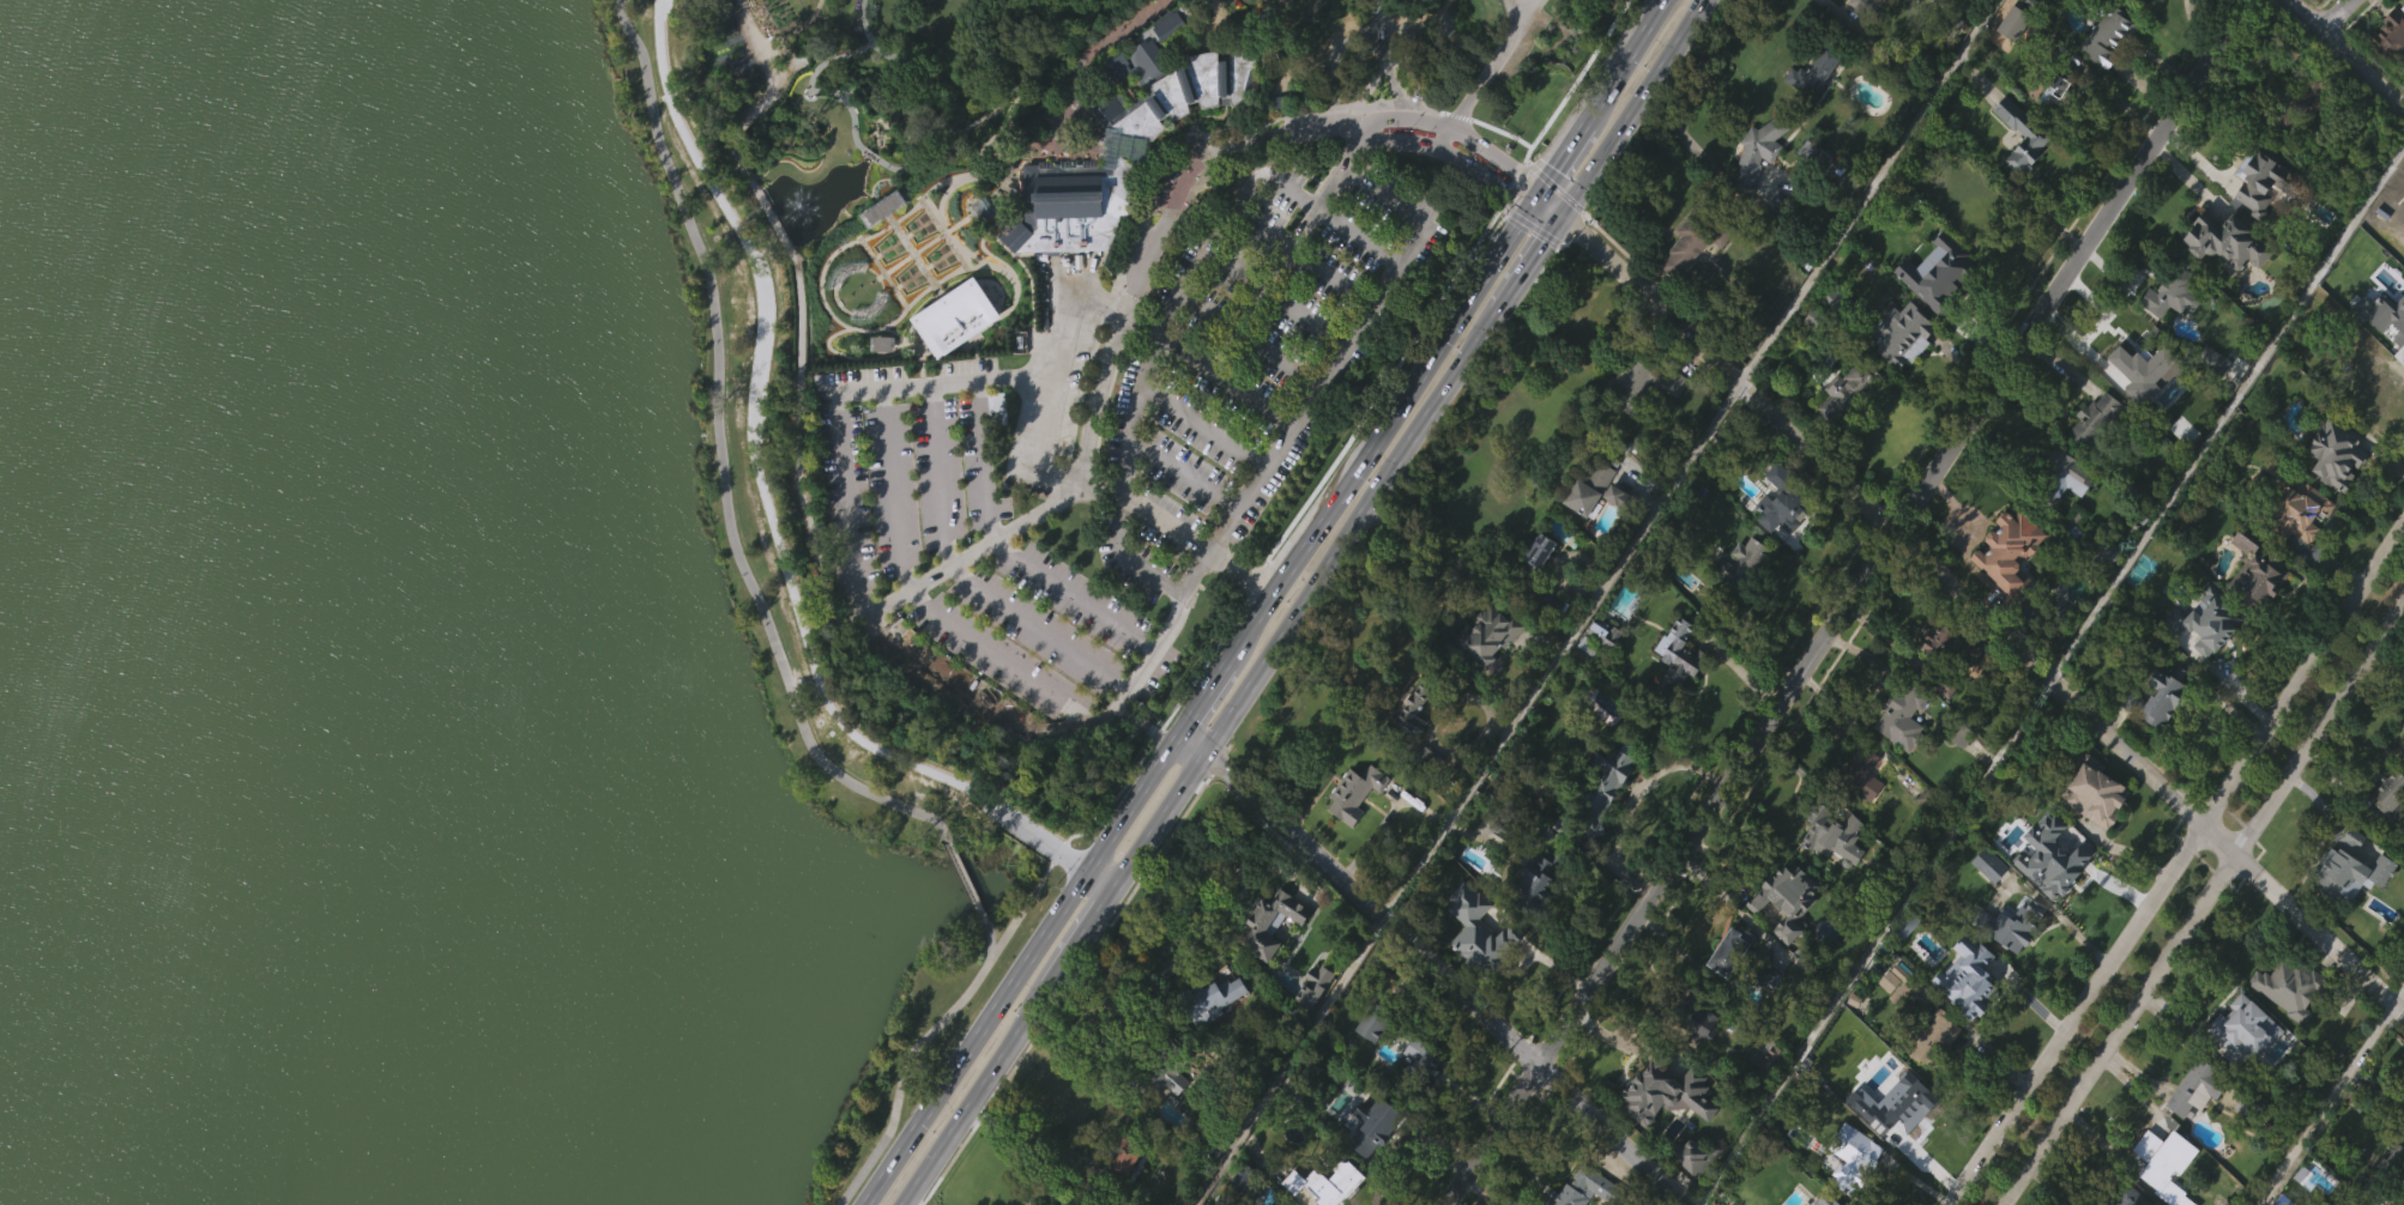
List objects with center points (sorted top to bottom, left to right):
road: (1522, 5)
building: (2158, 6)
building: (2303, 6)
road: (1831, 7)
building: (1868, 8)
road: (652, 16)
road: (2337, 16)
road: (816, 22)
building: (2113, 34)
building: (2390, 40)
road: (876, 47)
road: (2346, 54)
building: (1167, 60)
building: (2011, 60)
road: (1081, 68)
road: (1491, 68)
building: (1814, 71)
road: (991, 72)
building: (2104, 72)
building: (2390, 75)
building: (2067, 89)
building: (2294, 102)
building: (1811, 110)
building: (1234, 114)
road: (1408, 119)
road: (910, 120)
building: (2058, 131)
building: (2038, 133)
road: (1687, 138)
building: (1122, 139)
road: (1445, 140)
road: (850, 143)
building: (1757, 151)
road: (1448, 153)
road: (1492, 155)
road: (695, 156)
road: (1121, 156)
building: (2019, 171)
building: (2257, 177)
road: (1864, 189)
road: (1530, 190)
building: (1754, 190)
building: (1814, 194)
building: (2397, 198)
fountain: (796, 206)
building: (2258, 217)
road: (1156, 235)
building: (1703, 235)
building: (2224, 241)
building: (883, 244)
road: (1289, 249)
road: (1303, 258)
building: (1955, 267)
building: (2222, 278)
building: (1687, 283)
building: (2170, 290)
building: (2380, 292)
road: (1276, 297)
building: (2399, 303)
park: (1097, 308)
building: (1933, 309)
building: (2384, 325)
building: (2169, 331)
building: (1899, 334)
road: (1249, 339)
building: (2400, 347)
building: (2134, 351)
building: (954, 356)
parking lot: (1251, 357)
building: (2209, 362)
road: (766, 369)
building: (1898, 373)
road: (942, 377)
building: (880, 381)
building: (1637, 384)
building: (2369, 384)
road: (1047, 390)
building: (1850, 390)
building: (2139, 408)
building: (1638, 417)
building: (2100, 425)
road: (1202, 428)
building: (1843, 429)
building: (996, 444)
road: (723, 452)
building: (2330, 452)
building: (2092, 456)
building: (1713, 462)
road: (1182, 474)
road: (797, 476)
building: (2067, 476)
building: (2136, 485)
building: (1588, 490)
building: (2333, 491)
building: (1786, 496)
road: (845, 501)
building: (2291, 508)
building: (2061, 513)
building: (1587, 523)
building: (2083, 528)
building: (1615, 533)
building: (1781, 537)
park: (645, 538)
road: (1007, 546)
building: (2297, 546)
building: (2010, 551)
building: (2109, 555)
building: (1534, 558)
road: (1135, 567)
building: (2252, 567)
road: (964, 573)
building: (1744, 576)
building: (1538, 587)
building: (2007, 589)
road: (917, 595)
road: (1849, 601)
road: (1303, 602)
building: (1740, 602)
road: (1970, 602)
road: (1266, 604)
building: (2253, 604)
building: (2212, 630)
building: (1494, 635)
building: (1547, 636)
road: (1560, 649)
building: (1677, 654)
building: (1947, 656)
building: (1601, 670)
building: (1485, 672)
road: (2050, 673)
building: (1674, 691)
road: (829, 692)
building: (2157, 696)
road: (1123, 697)
building: (1420, 708)
building: (1908, 717)
building: (1941, 721)
road: (1144, 723)
building: (2160, 735)
building: (1411, 746)
building: (2400, 747)
building: (1899, 753)
building: (1859, 765)
road: (1128, 777)
building: (2090, 788)
building: (1605, 791)
building: (1357, 792)
building: (2382, 795)
building: (1858, 800)
building: (1603, 819)
building: (2387, 826)
building: (1352, 829)
building: (1831, 829)
building: (2091, 830)
road: (1046, 838)
building: (2068, 848)
building: (1563, 860)
road: (2175, 867)
building: (2339, 867)
building: (1831, 872)
road: (1095, 877)
road: (965, 878)
building: (1534, 879)
building: (2049, 892)
building: (1786, 898)
building: (1987, 901)
road: (2203, 904)
building: (2351, 904)
building: (1535, 914)
building: (1268, 918)
building: (2011, 925)
building: (1783, 934)
building: (1741, 955)
building: (1270, 958)
building: (2007, 961)
road: (1433, 963)
building: (1472, 967)
building: (1909, 985)
building: (1319, 986)
building: (2291, 986)
building: (1727, 987)
building: (1979, 987)
building: (1765, 1012)
building: (1692, 1013)
building: (1886, 1017)
building: (1373, 1022)
building: (1311, 1023)
building: (1902, 1023)
building: (2283, 1024)
building: (2234, 1027)
building: (1208, 1036)
building: (1939, 1039)
road: (907, 1056)
road: (1286, 1059)
building: (1420, 1059)
building: (1370, 1060)
building: (1774, 1066)
building: (2240, 1066)
building: (1159, 1073)
building: (1931, 1073)
building: (1656, 1086)
building: (2192, 1086)
road: (2327, 1092)
building: (1420, 1094)
building: (1891, 1095)
building: (1768, 1097)
building: (2390, 1106)
building: (1167, 1115)
building: (2194, 1124)
building: (1663, 1130)
building: (1889, 1134)
building: (1204, 1142)
road: (1017, 1150)
building: (1119, 1156)
building: (2158, 1156)
building: (1852, 1157)
building: (1373, 1162)
building: (2384, 1173)
building: (1327, 1180)
building: (1250, 1182)
building: (1852, 1183)
building: (2162, 1187)
building: (1591, 1189)
building: (1123, 1191)
building: (1695, 1191)
building: (2393, 1193)
building: (2124, 1195)
building: (1240, 1203)
building: (2348, 1203)

